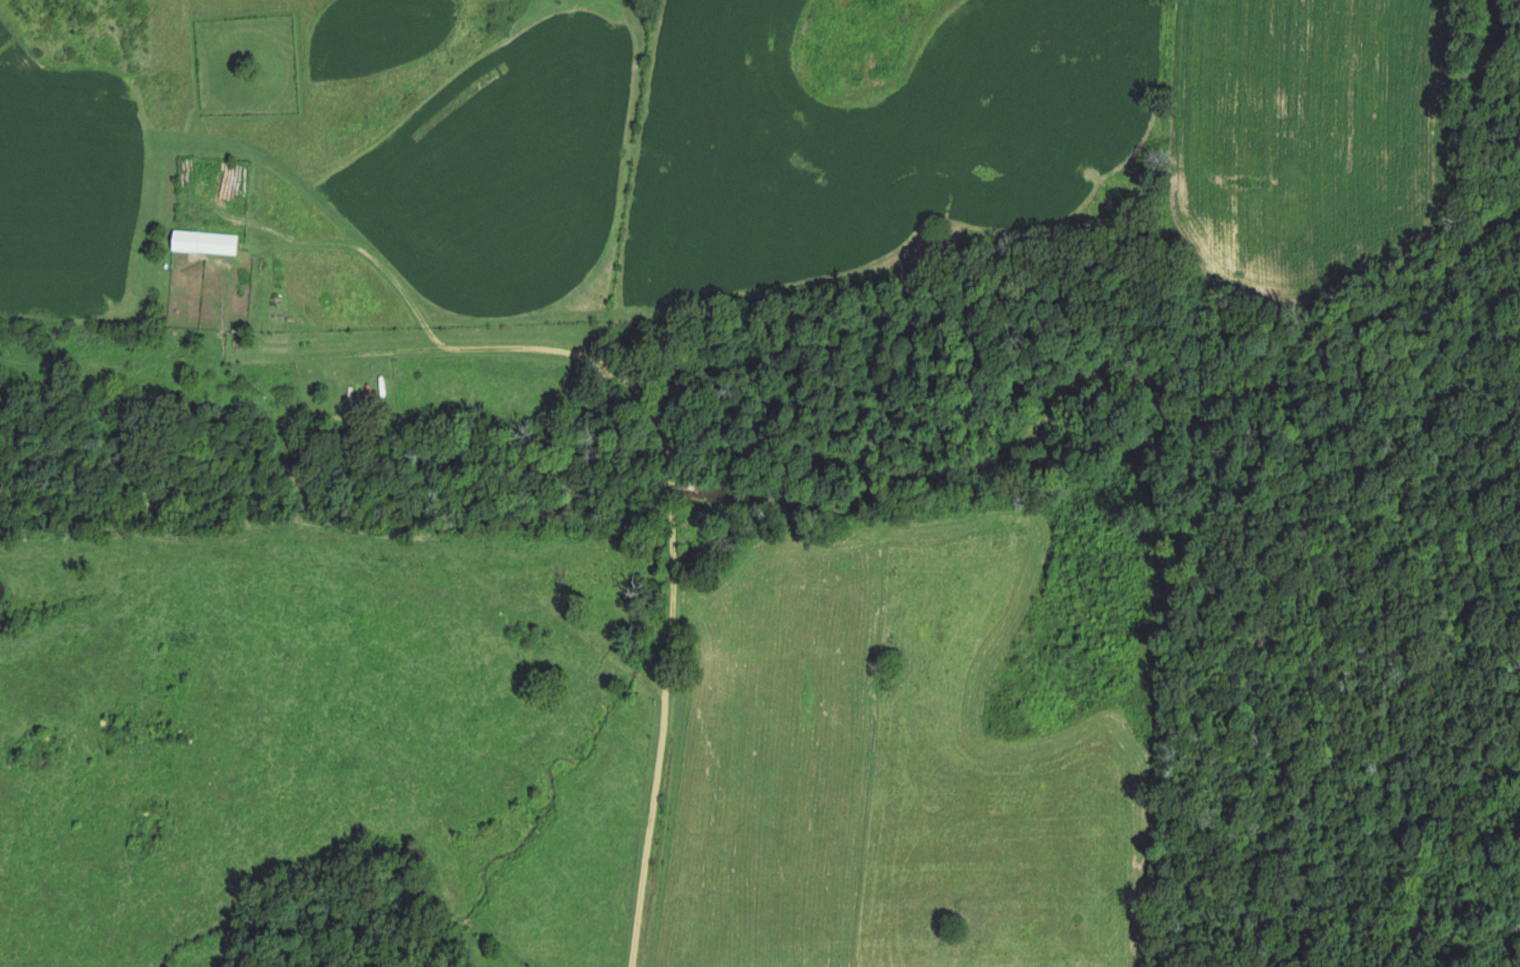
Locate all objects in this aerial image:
building: (208, 241)
road: (367, 250)
road: (673, 527)

